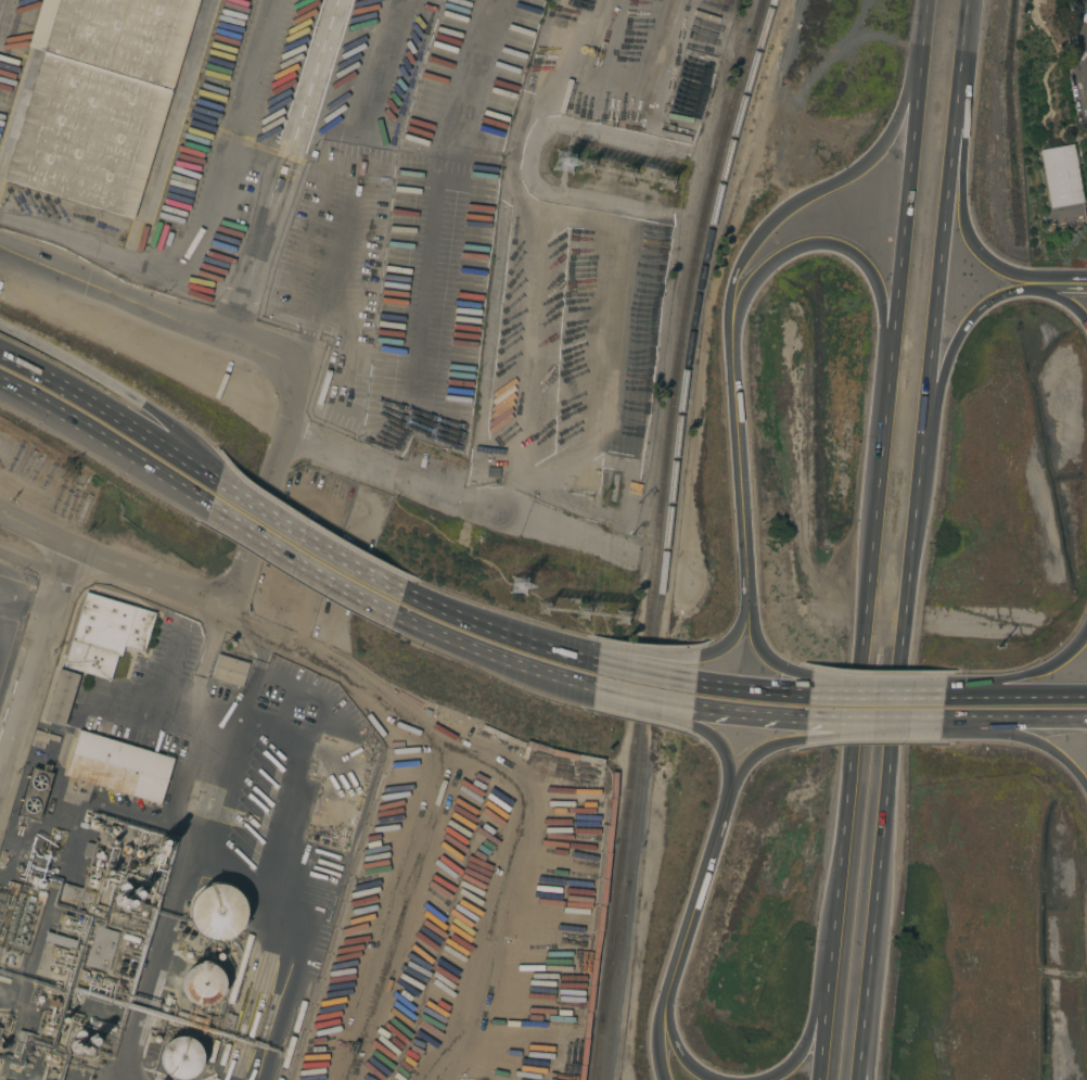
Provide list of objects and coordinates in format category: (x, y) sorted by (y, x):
railway: (754, 17)
road: (924, 23)
road: (964, 45)
road: (1079, 47)
road: (540, 54)
road: (592, 61)
road: (648, 67)
road: (303, 82)
road: (318, 85)
building: (98, 98)
railway: (190, 113)
road: (675, 147)
power tower: (584, 158)
building: (307, 160)
power tower: (632, 162)
road: (509, 169)
power tower: (653, 174)
building: (279, 176)
building: (1059, 178)
power tower: (678, 179)
road: (813, 192)
road: (282, 202)
road: (616, 230)
road: (962, 231)
road: (900, 234)
road: (4, 245)
road: (4, 251)
road: (255, 251)
road: (848, 253)
road: (941, 257)
road: (1054, 289)
road: (1059, 300)
road: (159, 313)
road: (954, 341)
road: (118, 391)
road: (111, 414)
road: (105, 443)
road: (737, 467)
road: (272, 484)
road: (455, 493)
railway: (656, 526)
railway: (665, 532)
road: (307, 538)
power tower: (484, 543)
road: (31, 561)
road: (114, 566)
road: (298, 566)
power tower: (510, 589)
power tower: (551, 607)
road: (23, 620)
power tower: (589, 623)
road: (497, 628)
road: (732, 632)
building: (105, 634)
road: (535, 635)
road: (757, 646)
road: (491, 656)
road: (647, 656)
road: (35, 660)
building: (229, 670)
road: (644, 672)
road: (1032, 672)
road: (872, 686)
road: (750, 689)
road: (871, 696)
building: (61, 697)
road: (938, 697)
road: (954, 697)
road: (1026, 697)
road: (641, 700)
road: (852, 700)
road: (650, 710)
road: (209, 713)
road: (747, 716)
road: (1013, 720)
road: (869, 721)
road: (935, 721)
road: (894, 723)
road: (868, 729)
road: (1022, 737)
road: (719, 749)
road: (757, 751)
building: (119, 766)
building: (35, 793)
road: (413, 795)
building: (93, 824)
building: (115, 830)
building: (162, 848)
building: (126, 849)
building: (88, 850)
building: (138, 853)
building: (130, 865)
road: (485, 882)
building: (84, 886)
building: (124, 887)
building: (12, 888)
building: (138, 893)
road: (694, 894)
building: (40, 897)
building: (120, 900)
building: (131, 902)
building: (94, 911)
building: (218, 912)
storage tank: (218, 912)
power substation: (17, 920)
building: (67, 922)
building: (59, 940)
building: (131, 940)
building: (101, 948)
building: (188, 954)
building: (219, 955)
railway: (616, 957)
building: (128, 958)
building: (240, 968)
building: (89, 977)
building: (200, 983)
storage tank: (200, 983)
building: (39, 999)
building: (167, 1002)
building: (86, 1013)
building: (192, 1018)
building: (227, 1020)
road: (819, 1028)
power plant: (4, 1030)
railway: (297, 1030)
building: (79, 1035)
building: (156, 1038)
road: (805, 1038)
building: (36, 1039)
road: (655, 1040)
building: (93, 1041)
building: (76, 1047)
road: (675, 1049)
building: (87, 1051)
building: (213, 1051)
road: (861, 1051)
road: (866, 1051)
building: (223, 1054)
building: (50, 1057)
building: (181, 1058)
storage tank: (181, 1058)
railway: (597, 1070)
railway: (606, 1076)
building: (213, 1078)

